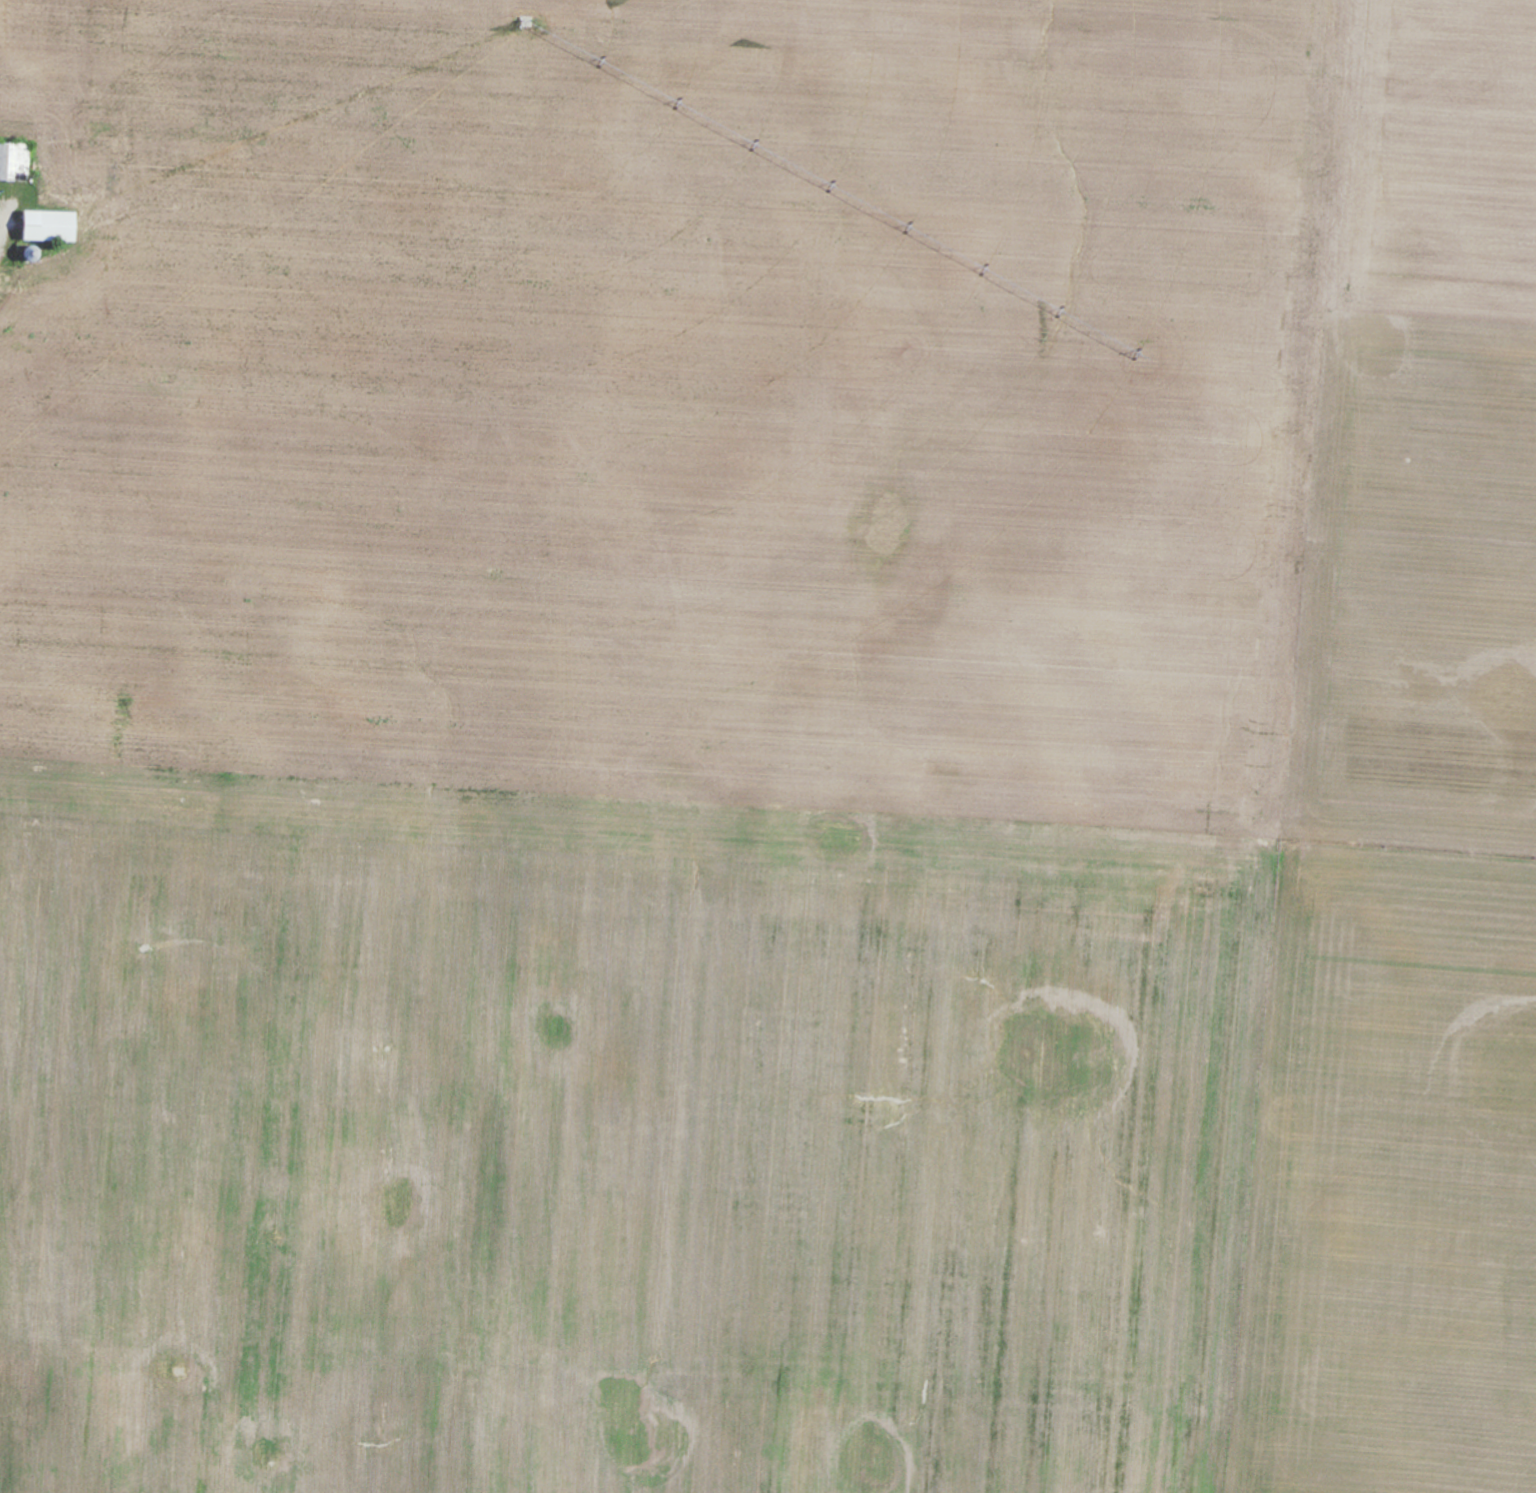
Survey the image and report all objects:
building: (12, 159)
building: (48, 225)

